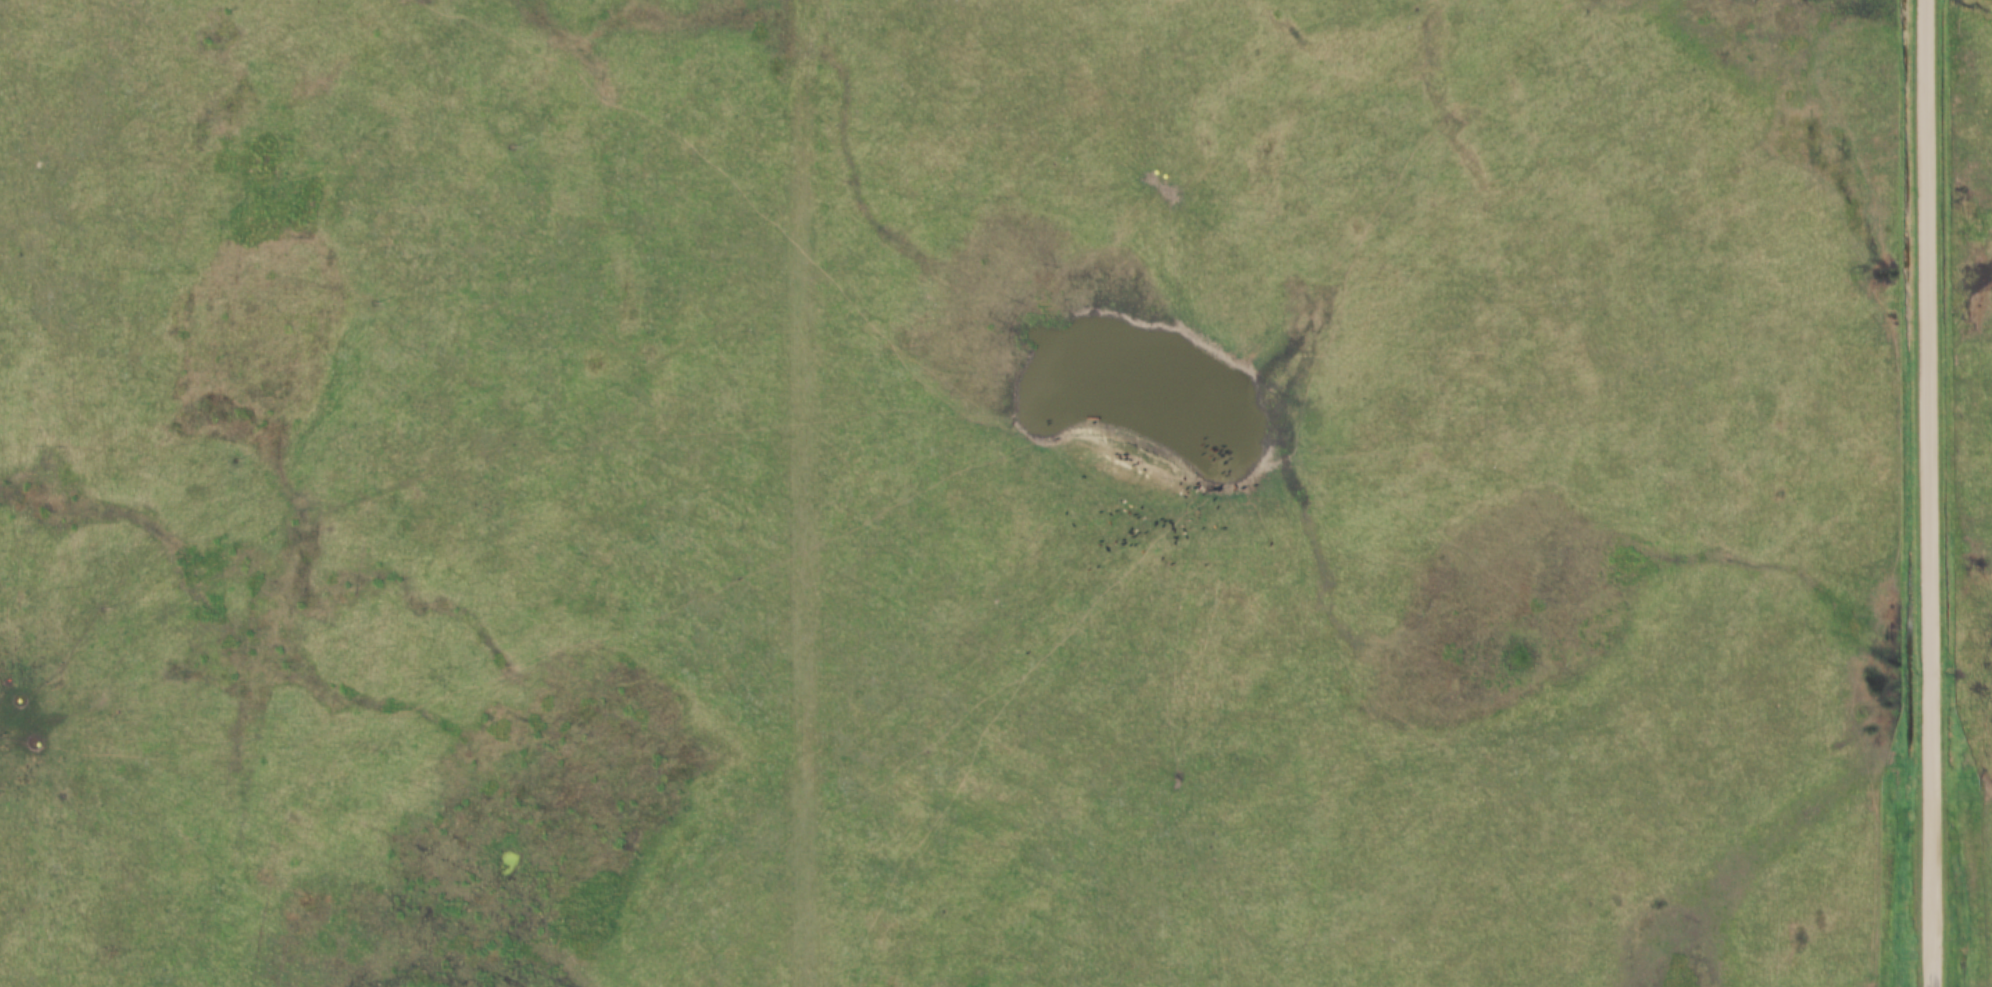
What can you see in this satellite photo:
road: (1930, 493)

